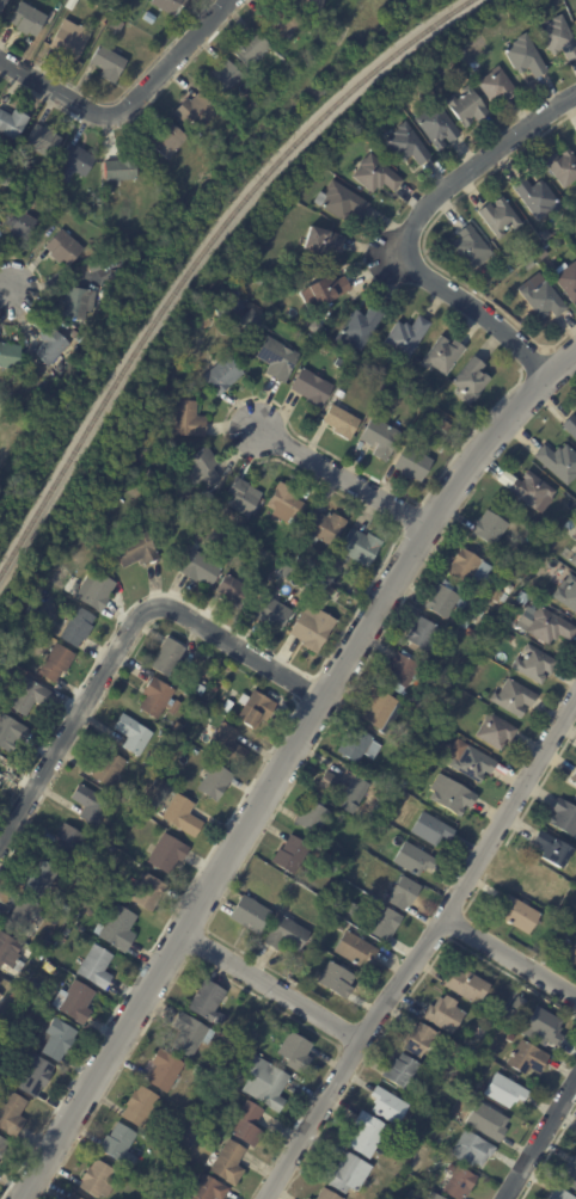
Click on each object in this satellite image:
building: (111, 2)
building: (311, 4)
building: (2, 5)
building: (170, 6)
building: (148, 18)
building: (575, 18)
building: (27, 20)
building: (283, 23)
building: (116, 26)
building: (559, 38)
building: (71, 39)
building: (92, 41)
building: (251, 49)
building: (525, 57)
building: (108, 63)
building: (225, 76)
building: (497, 87)
road: (125, 104)
building: (393, 107)
building: (467, 107)
building: (196, 112)
building: (12, 124)
building: (437, 127)
building: (575, 135)
building: (167, 141)
building: (43, 142)
building: (408, 146)
building: (72, 162)
road: (472, 166)
building: (121, 168)
building: (563, 168)
building: (375, 176)
building: (4, 183)
building: (538, 198)
building: (341, 202)
building: (86, 211)
building: (44, 217)
building: (51, 217)
building: (501, 219)
building: (19, 221)
building: (546, 236)
building: (321, 242)
building: (470, 247)
building: (62, 250)
railway: (200, 257)
building: (507, 270)
building: (566, 281)
road: (7, 288)
building: (237, 290)
building: (324, 291)
building: (543, 299)
building: (78, 303)
road: (473, 308)
building: (251, 319)
building: (257, 320)
building: (315, 327)
building: (361, 328)
building: (406, 338)
building: (53, 348)
building: (10, 355)
building: (443, 356)
building: (277, 359)
building: (223, 376)
building: (471, 380)
building: (312, 389)
building: (188, 420)
building: (342, 424)
building: (571, 425)
building: (443, 426)
building: (381, 439)
building: (558, 462)
building: (413, 466)
building: (202, 469)
building: (143, 474)
road: (339, 476)
building: (532, 490)
building: (243, 498)
building: (206, 500)
building: (286, 504)
road: (394, 522)
building: (325, 527)
building: (490, 528)
building: (244, 530)
building: (276, 535)
building: (136, 547)
building: (361, 548)
building: (574, 560)
building: (200, 567)
building: (470, 567)
building: (287, 571)
building: (320, 585)
building: (233, 589)
building: (94, 591)
building: (566, 592)
building: (497, 596)
building: (522, 598)
building: (446, 599)
building: (321, 601)
building: (31, 610)
building: (271, 613)
building: (464, 623)
building: (544, 626)
building: (78, 627)
building: (312, 628)
building: (468, 632)
building: (423, 634)
road: (122, 638)
building: (510, 639)
building: (171, 658)
building: (1, 663)
building: (56, 663)
building: (535, 664)
building: (402, 671)
building: (447, 684)
building: (214, 689)
building: (198, 690)
building: (27, 696)
building: (157, 696)
building: (514, 697)
building: (227, 706)
building: (379, 708)
building: (255, 709)
building: (168, 715)
building: (422, 719)
building: (496, 731)
building: (10, 732)
building: (133, 733)
building: (227, 743)
building: (359, 745)
building: (427, 745)
building: (194, 752)
building: (471, 761)
road: (282, 763)
building: (2, 765)
building: (109, 768)
building: (574, 777)
building: (214, 781)
building: (159, 783)
building: (345, 787)
building: (452, 795)
building: (133, 797)
building: (575, 799)
building: (91, 805)
building: (183, 816)
building: (312, 817)
building: (564, 817)
building: (369, 822)
building: (431, 830)
building: (69, 843)
building: (553, 850)
building: (167, 854)
building: (290, 855)
building: (415, 860)
building: (42, 880)
building: (148, 892)
building: (404, 893)
building: (250, 914)
building: (520, 915)
building: (23, 916)
building: (385, 924)
building: (341, 927)
building: (117, 929)
building: (286, 935)
building: (355, 949)
road: (419, 951)
building: (11, 953)
road: (510, 953)
building: (572, 955)
building: (49, 969)
building: (96, 969)
building: (337, 979)
building: (466, 985)
road: (271, 986)
building: (0, 996)
building: (17, 996)
building: (74, 1002)
building: (208, 1003)
building: (519, 1004)
building: (445, 1015)
building: (510, 1016)
building: (543, 1027)
building: (478, 1034)
building: (188, 1035)
building: (509, 1038)
building: (57, 1040)
building: (419, 1040)
building: (295, 1052)
building: (527, 1059)
building: (434, 1065)
building: (165, 1071)
building: (402, 1071)
building: (36, 1077)
building: (265, 1083)
building: (504, 1090)
building: (388, 1105)
building: (140, 1107)
building: (473, 1107)
building: (11, 1114)
building: (431, 1115)
building: (247, 1124)
building: (491, 1124)
building: (367, 1135)
road: (541, 1139)
building: (120, 1145)
building: (2, 1148)
building: (472, 1150)
building: (575, 1150)
building: (228, 1164)
building: (347, 1174)
building: (570, 1175)
building: (97, 1180)
building: (145, 1180)
building: (459, 1183)
building: (208, 1188)
building: (411, 1194)
building: (560, 1194)
building: (327, 1195)
building: (72, 1197)
building: (434, 1197)
building: (305, 1198)

